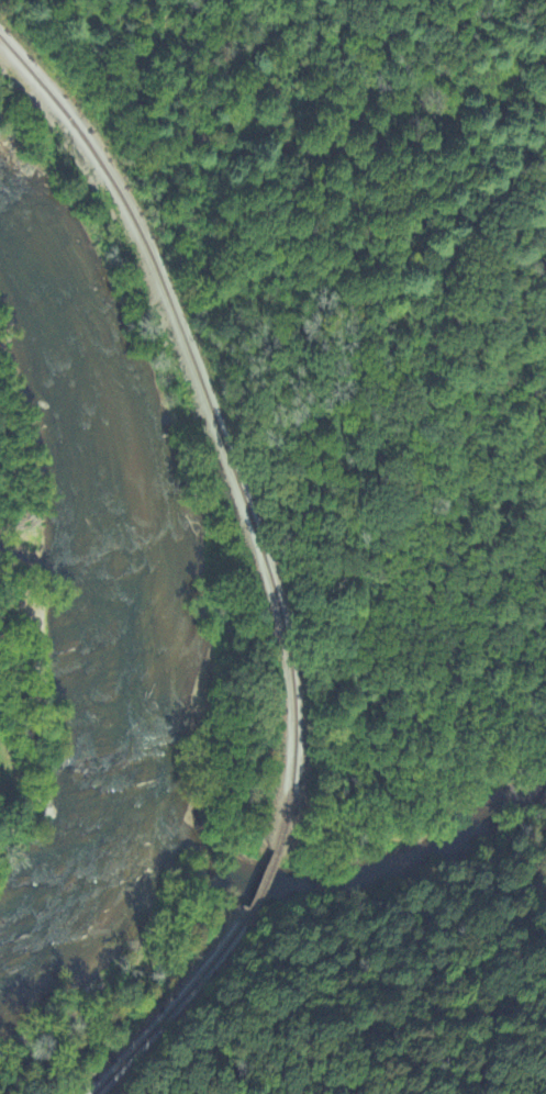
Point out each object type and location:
railway: (216, 422)
river: (103, 607)
railway: (264, 880)
railway: (175, 1003)

